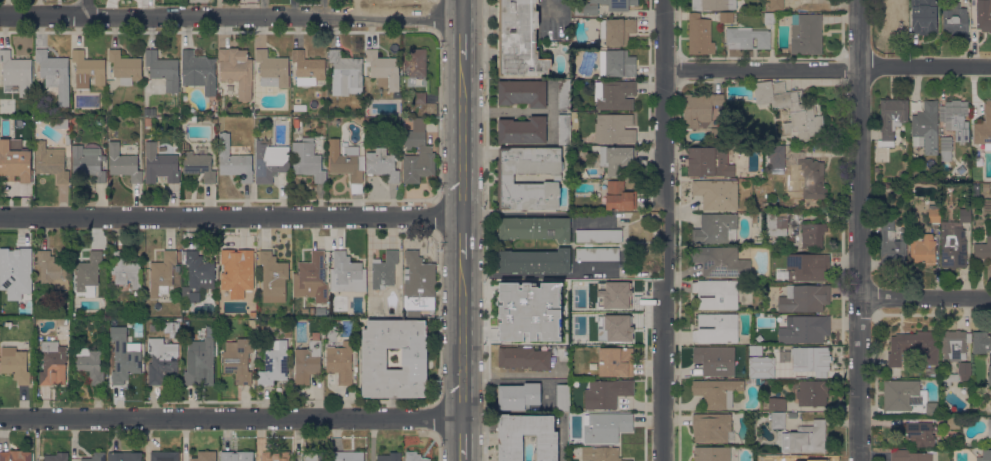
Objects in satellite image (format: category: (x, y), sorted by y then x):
building: (617, 4)
building: (714, 4)
building: (775, 4)
road: (92, 9)
building: (585, 9)
road: (465, 10)
building: (895, 15)
building: (983, 15)
building: (924, 16)
building: (726, 17)
building: (769, 18)
road: (232, 19)
building: (954, 19)
building: (617, 30)
road: (40, 33)
road: (77, 33)
road: (223, 33)
road: (4, 34)
road: (114, 34)
road: (186, 34)
road: (260, 34)
road: (297, 34)
road: (335, 34)
road: (371, 34)
building: (806, 34)
building: (700, 35)
building: (746, 38)
building: (519, 39)
road: (464, 40)
building: (592, 44)
road: (271, 46)
road: (381, 47)
road: (123, 48)
road: (305, 48)
road: (85, 49)
building: (416, 62)
building: (617, 64)
building: (125, 65)
road: (828, 65)
building: (15, 67)
building: (308, 68)
building: (87, 69)
building: (236, 69)
building: (272, 69)
building: (384, 69)
building: (162, 71)
building: (199, 71)
building: (345, 73)
building: (53, 74)
building: (147, 86)
building: (522, 92)
building: (564, 94)
building: (614, 94)
building: (419, 97)
building: (699, 108)
building: (790, 108)
building: (431, 110)
road: (509, 111)
building: (147, 113)
building: (195, 116)
building: (278, 118)
building: (955, 118)
building: (30, 119)
building: (891, 119)
building: (74, 120)
building: (148, 121)
building: (59, 123)
building: (296, 123)
building: (927, 125)
building: (613, 128)
building: (564, 129)
building: (983, 129)
building: (522, 130)
building: (717, 134)
building: (904, 135)
building: (67, 138)
road: (465, 138)
building: (837, 142)
building: (946, 148)
building: (425, 151)
building: (776, 152)
building: (616, 158)
building: (234, 160)
building: (307, 160)
building: (88, 161)
building: (269, 161)
building: (709, 161)
building: (16, 162)
building: (50, 162)
building: (198, 163)
building: (122, 164)
building: (345, 164)
building: (382, 164)
building: (159, 166)
building: (875, 168)
building: (961, 170)
building: (505, 177)
building: (809, 179)
building: (889, 185)
building: (986, 186)
building: (716, 194)
building: (619, 196)
building: (934, 213)
road: (232, 217)
building: (754, 218)
building: (780, 222)
building: (534, 228)
building: (716, 228)
road: (665, 230)
road: (862, 230)
road: (337, 234)
building: (599, 235)
building: (813, 235)
road: (465, 239)
building: (954, 241)
building: (891, 243)
building: (984, 245)
building: (923, 249)
building: (597, 254)
building: (534, 261)
building: (721, 261)
building: (807, 267)
building: (176, 268)
building: (125, 269)
building: (52, 270)
building: (346, 270)
building: (384, 270)
building: (15, 272)
building: (236, 272)
building: (88, 274)
building: (162, 274)
building: (273, 274)
building: (197, 276)
building: (311, 278)
building: (419, 285)
building: (543, 289)
building: (137, 294)
building: (716, 294)
building: (581, 298)
building: (804, 298)
road: (927, 301)
building: (320, 311)
building: (514, 314)
building: (252, 323)
building: (564, 325)
building: (615, 326)
building: (716, 328)
building: (804, 329)
building: (174, 330)
building: (655, 337)
road: (465, 340)
building: (981, 342)
building: (261, 344)
building: (954, 344)
building: (913, 347)
building: (569, 354)
building: (123, 357)
building: (198, 358)
building: (524, 358)
building: (238, 359)
building: (811, 359)
building: (161, 360)
building: (715, 360)
building: (415, 361)
building: (616, 361)
building: (307, 362)
building: (52, 363)
building: (16, 364)
building: (89, 364)
building: (274, 364)
building: (340, 364)
building: (761, 370)
building: (957, 374)
building: (892, 375)
building: (989, 375)
building: (758, 381)
building: (764, 386)
building: (716, 392)
building: (811, 392)
building: (607, 393)
building: (518, 396)
building: (563, 397)
building: (906, 398)
building: (777, 404)
building: (798, 415)
road: (233, 418)
building: (776, 419)
building: (953, 423)
building: (606, 426)
building: (989, 427)
building: (711, 428)
building: (920, 433)
building: (805, 438)
road: (466, 439)
building: (510, 449)
building: (600, 454)
building: (711, 454)
building: (237, 455)
building: (909, 455)
building: (985, 455)
building: (15, 456)
building: (124, 456)
building: (164, 456)
building: (204, 456)
building: (274, 456)
building: (314, 456)
building: (348, 456)
building: (389, 456)
building: (414, 456)
building: (57, 457)
building: (95, 457)
building: (775, 458)
building: (73, 459)
road: (465, 460)

